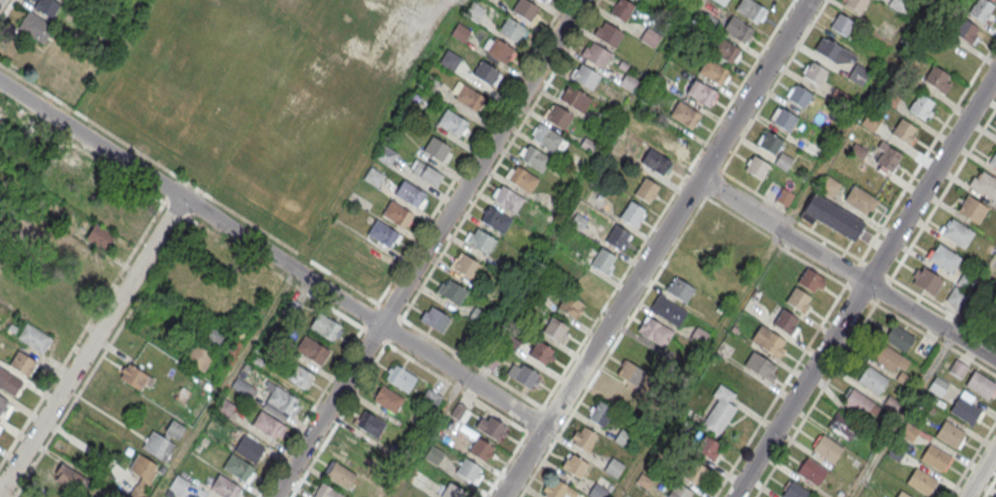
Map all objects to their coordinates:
building: (539, 0)
building: (721, 2)
building: (856, 4)
building: (899, 5)
building: (47, 7)
building: (622, 9)
building: (525, 10)
building: (751, 10)
building: (980, 10)
road: (7, 11)
building: (475, 12)
building: (349, 21)
building: (842, 24)
building: (35, 27)
building: (738, 29)
building: (512, 30)
building: (966, 31)
building: (460, 32)
building: (608, 34)
building: (650, 38)
building: (499, 50)
building: (725, 50)
building: (833, 52)
building: (595, 55)
building: (450, 59)
building: (622, 66)
building: (713, 71)
building: (485, 73)
building: (815, 74)
building: (858, 75)
building: (584, 77)
building: (937, 79)
building: (628, 83)
road: (774, 85)
building: (700, 91)
building: (468, 97)
building: (574, 97)
building: (799, 97)
building: (838, 97)
building: (921, 107)
building: (685, 114)
building: (557, 117)
building: (784, 120)
building: (871, 120)
building: (451, 122)
building: (602, 122)
building: (904, 131)
building: (545, 137)
building: (670, 138)
building: (770, 143)
building: (437, 150)
road: (928, 151)
building: (386, 155)
building: (886, 157)
building: (533, 158)
road: (499, 159)
building: (783, 160)
building: (993, 160)
building: (656, 161)
building: (69, 164)
building: (756, 168)
building: (427, 173)
building: (374, 176)
building: (521, 179)
road: (188, 183)
building: (828, 185)
building: (984, 186)
building: (645, 190)
building: (410, 195)
building: (784, 196)
building: (506, 198)
building: (861, 199)
road: (740, 203)
road: (666, 205)
building: (972, 210)
building: (396, 214)
building: (631, 214)
building: (833, 217)
building: (495, 220)
building: (719, 227)
building: (382, 234)
building: (957, 234)
building: (100, 236)
building: (617, 238)
building: (479, 241)
road: (910, 245)
road: (427, 248)
road: (655, 248)
building: (707, 251)
road: (272, 255)
road: (162, 258)
building: (943, 259)
building: (367, 261)
building: (602, 261)
building: (465, 266)
building: (505, 269)
road: (656, 277)
building: (811, 280)
building: (926, 281)
building: (966, 281)
road: (865, 285)
road: (845, 286)
building: (479, 287)
building: (226, 288)
building: (679, 289)
building: (451, 292)
road: (888, 295)
building: (956, 297)
road: (974, 299)
building: (799, 300)
building: (291, 306)
building: (570, 306)
building: (667, 309)
building: (477, 317)
road: (89, 320)
building: (434, 320)
building: (786, 323)
building: (324, 325)
building: (555, 329)
building: (654, 331)
building: (34, 337)
building: (212, 338)
building: (899, 338)
road: (852, 340)
building: (767, 341)
building: (468, 342)
road: (90, 344)
building: (511, 344)
building: (314, 350)
building: (541, 353)
building: (198, 356)
building: (889, 357)
road: (469, 361)
building: (489, 362)
building: (22, 363)
building: (760, 366)
building: (957, 369)
building: (630, 373)
building: (298, 375)
building: (134, 376)
building: (527, 376)
building: (401, 379)
building: (872, 379)
building: (9, 381)
road: (225, 383)
building: (980, 385)
building: (937, 386)
road: (324, 388)
road: (779, 391)
building: (619, 393)
building: (281, 399)
building: (429, 399)
road: (475, 399)
building: (387, 400)
building: (857, 402)
building: (5, 407)
building: (964, 410)
building: (719, 412)
building: (459, 413)
building: (601, 415)
road: (902, 415)
road: (338, 420)
building: (266, 423)
building: (0, 425)
building: (370, 425)
building: (843, 425)
building: (490, 428)
building: (909, 431)
building: (949, 434)
building: (623, 439)
building: (163, 440)
building: (585, 440)
building: (249, 448)
building: (708, 448)
building: (480, 449)
building: (827, 449)
building: (895, 453)
building: (433, 456)
building: (935, 457)
road: (972, 459)
building: (237, 466)
building: (574, 466)
building: (612, 468)
building: (470, 472)
building: (811, 472)
road: (981, 472)
building: (694, 473)
building: (143, 474)
building: (341, 475)
building: (68, 478)
building: (921, 482)
building: (178, 485)
building: (224, 487)
road: (989, 487)
building: (556, 489)
building: (327, 491)
building: (680, 491)
building: (795, 491)
building: (454, 492)
building: (597, 492)
building: (902, 494)

